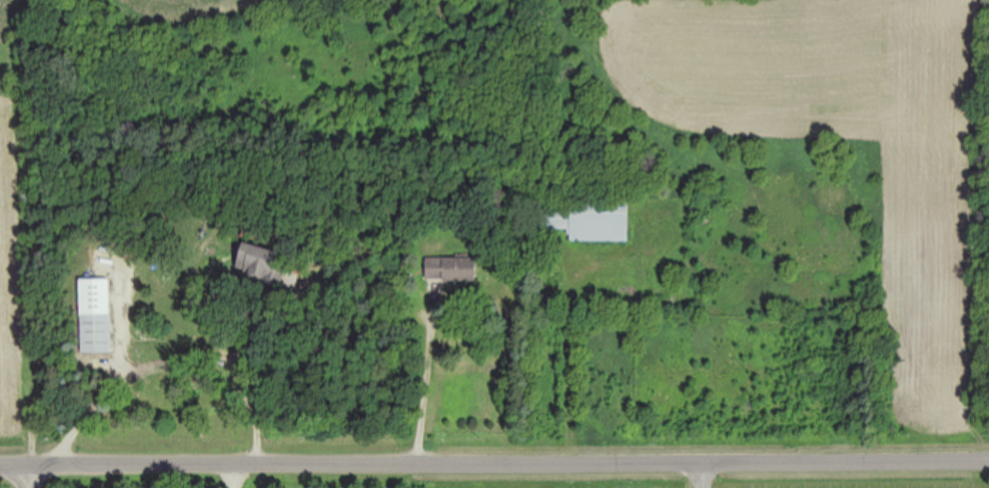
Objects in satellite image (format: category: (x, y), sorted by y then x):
crop: (169, 10)
building: (583, 217)
crop: (778, 225)
crop: (16, 226)
building: (257, 261)
building: (453, 269)
building: (97, 315)
road: (428, 387)
road: (494, 465)
road: (31, 476)
road: (711, 476)

